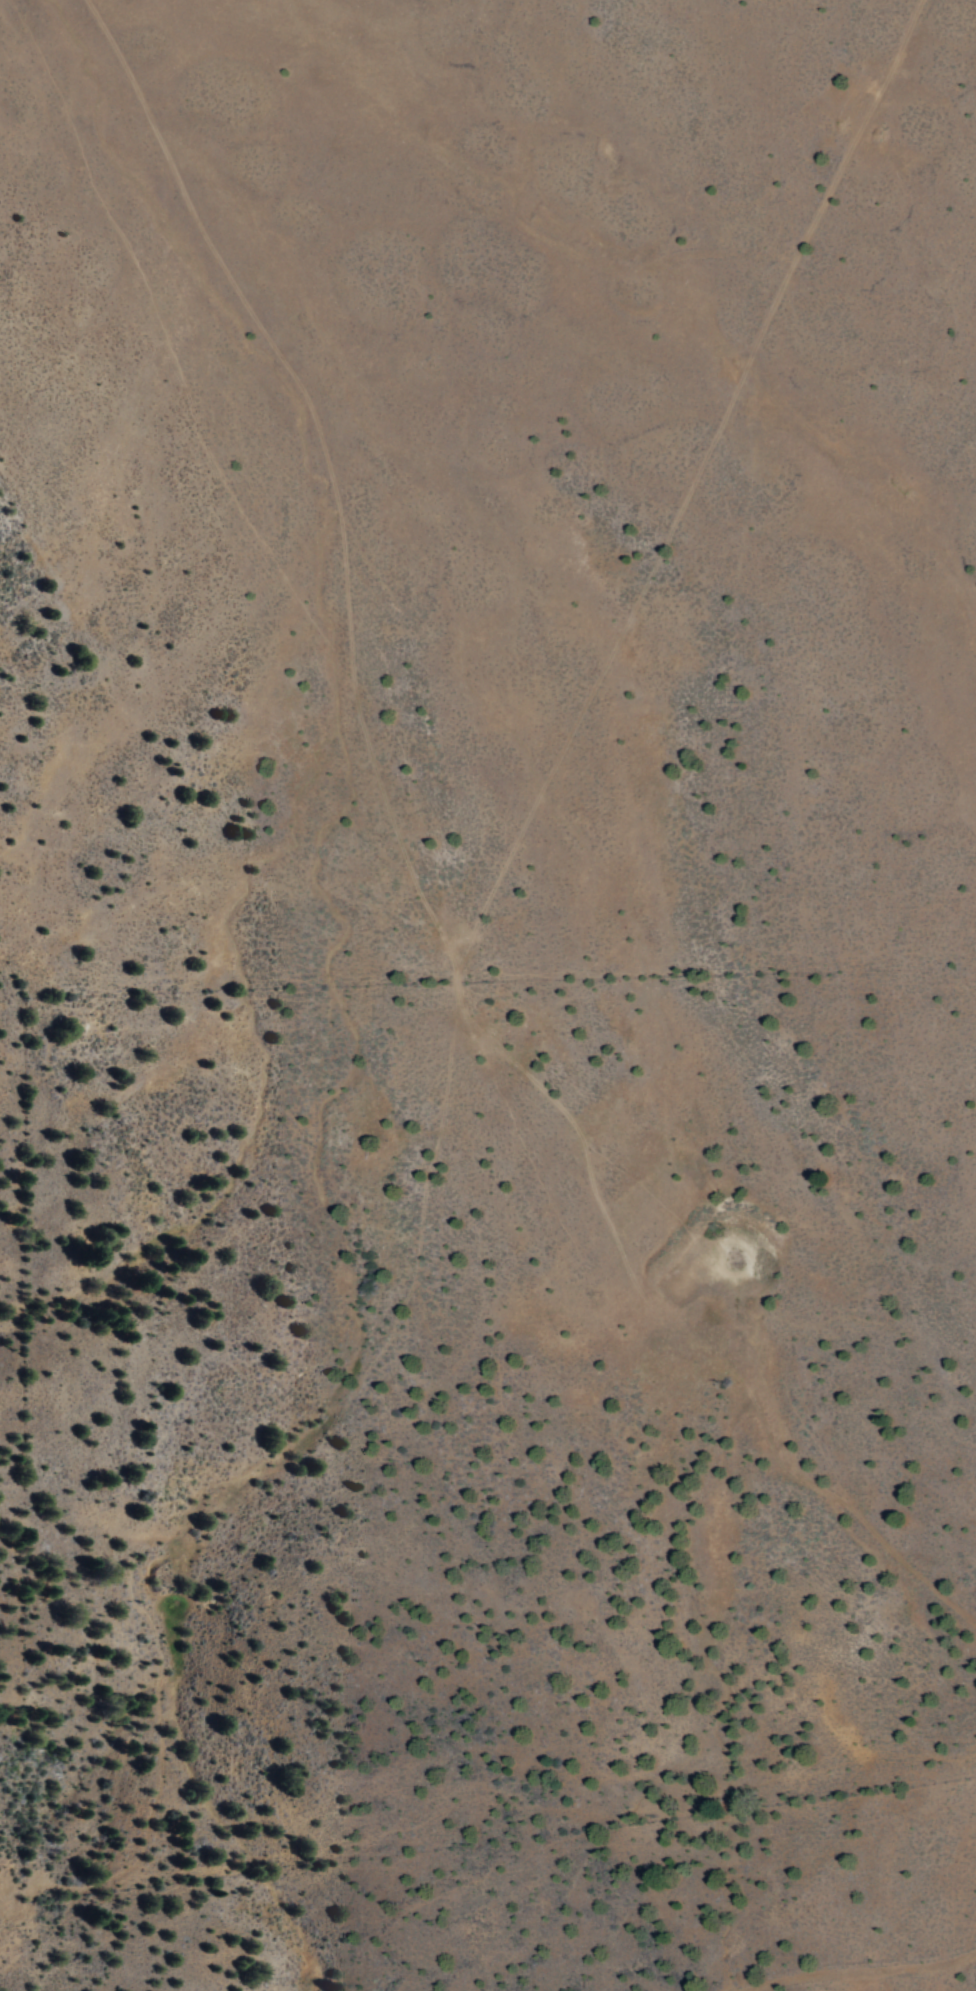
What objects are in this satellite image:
road: (694, 483)
road: (855, 1966)

